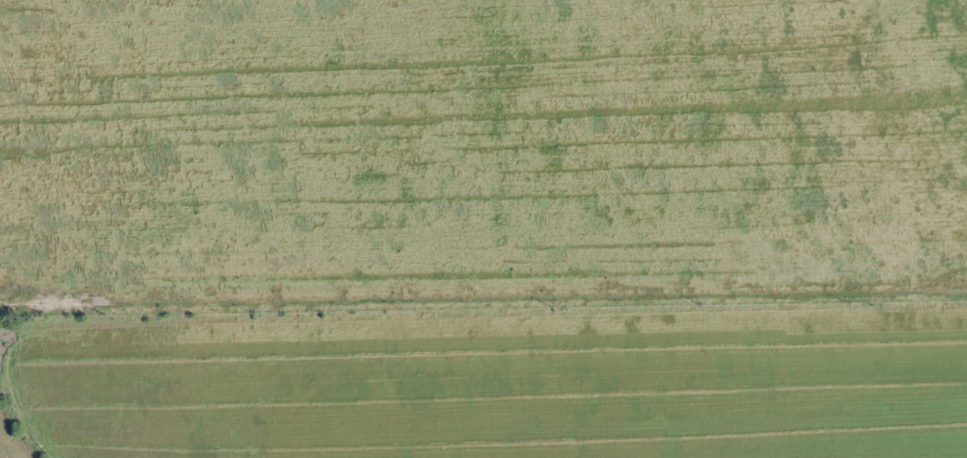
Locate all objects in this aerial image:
road: (2, 454)

